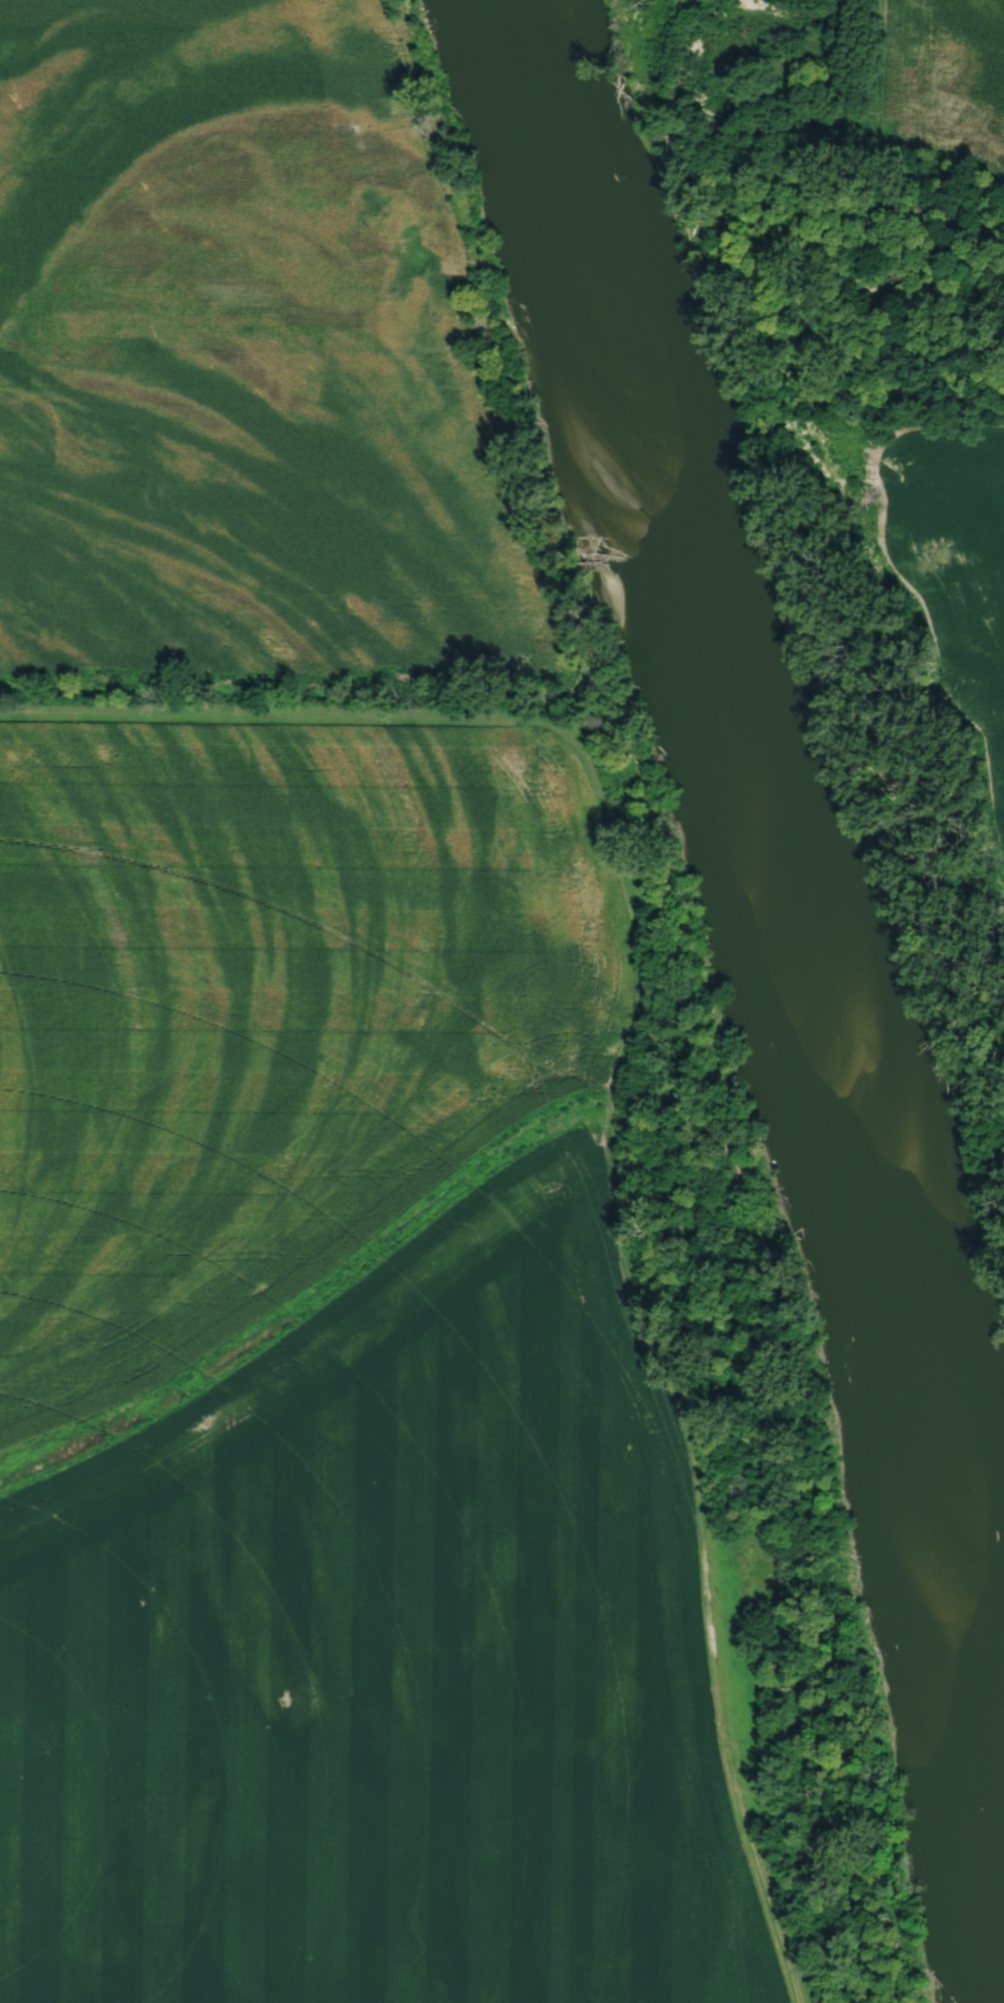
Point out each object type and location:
river: (762, 940)
road: (699, 1516)
crop: (384, 1659)

